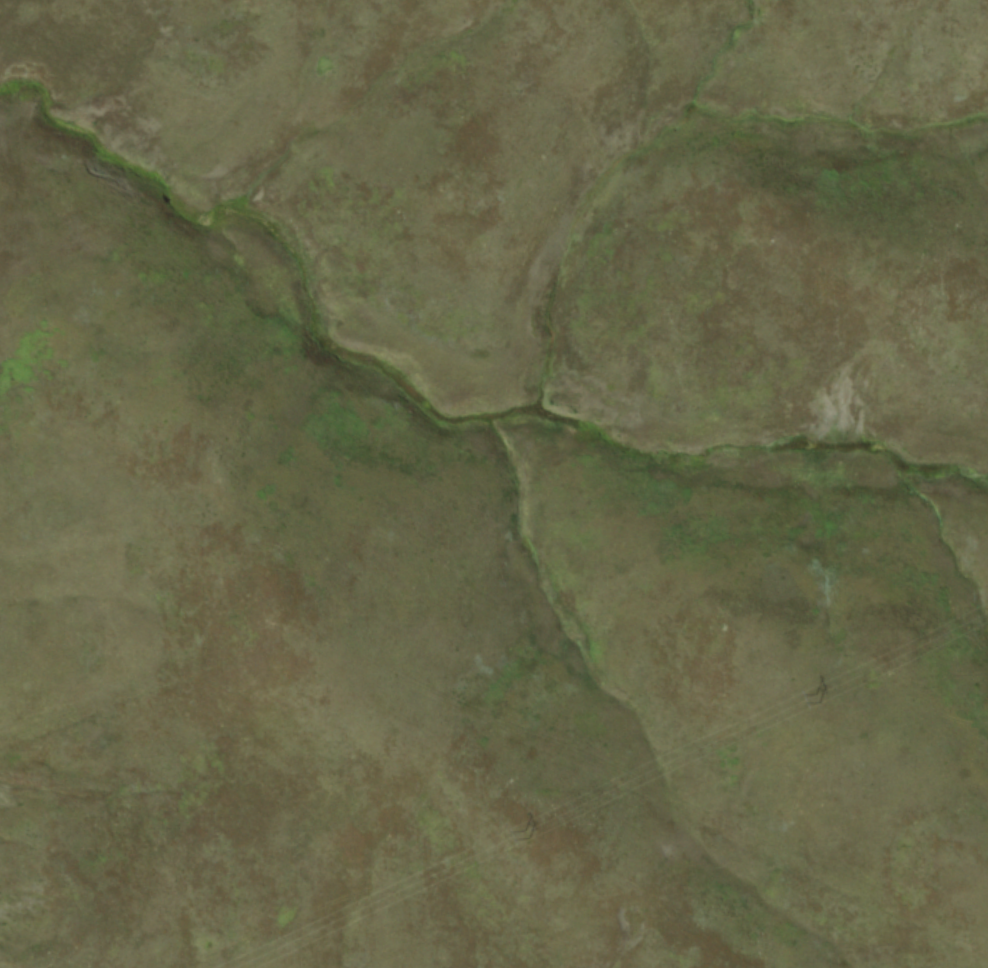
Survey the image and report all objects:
power tower: (814, 699)
power tower: (524, 834)

